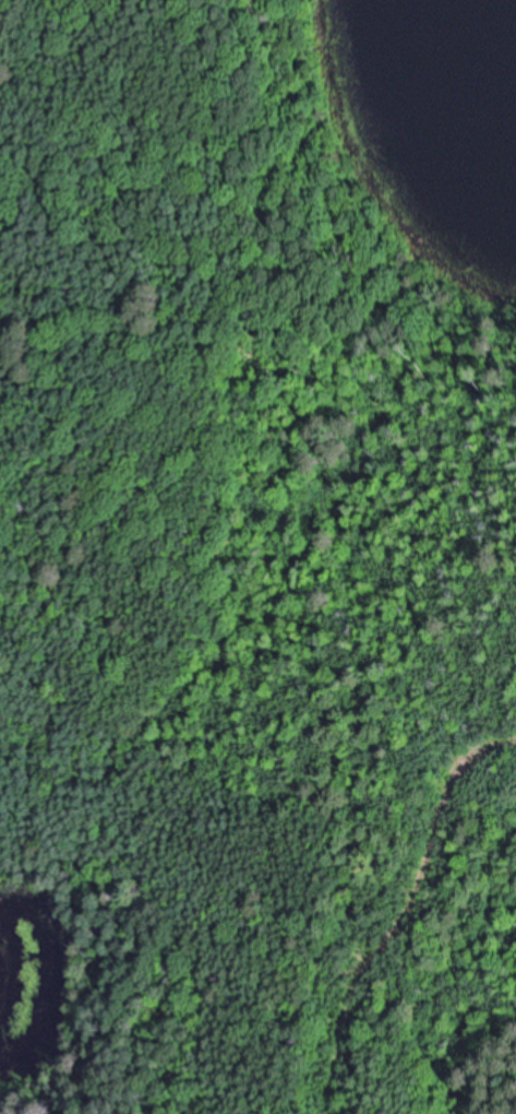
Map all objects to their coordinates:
road: (399, 906)

